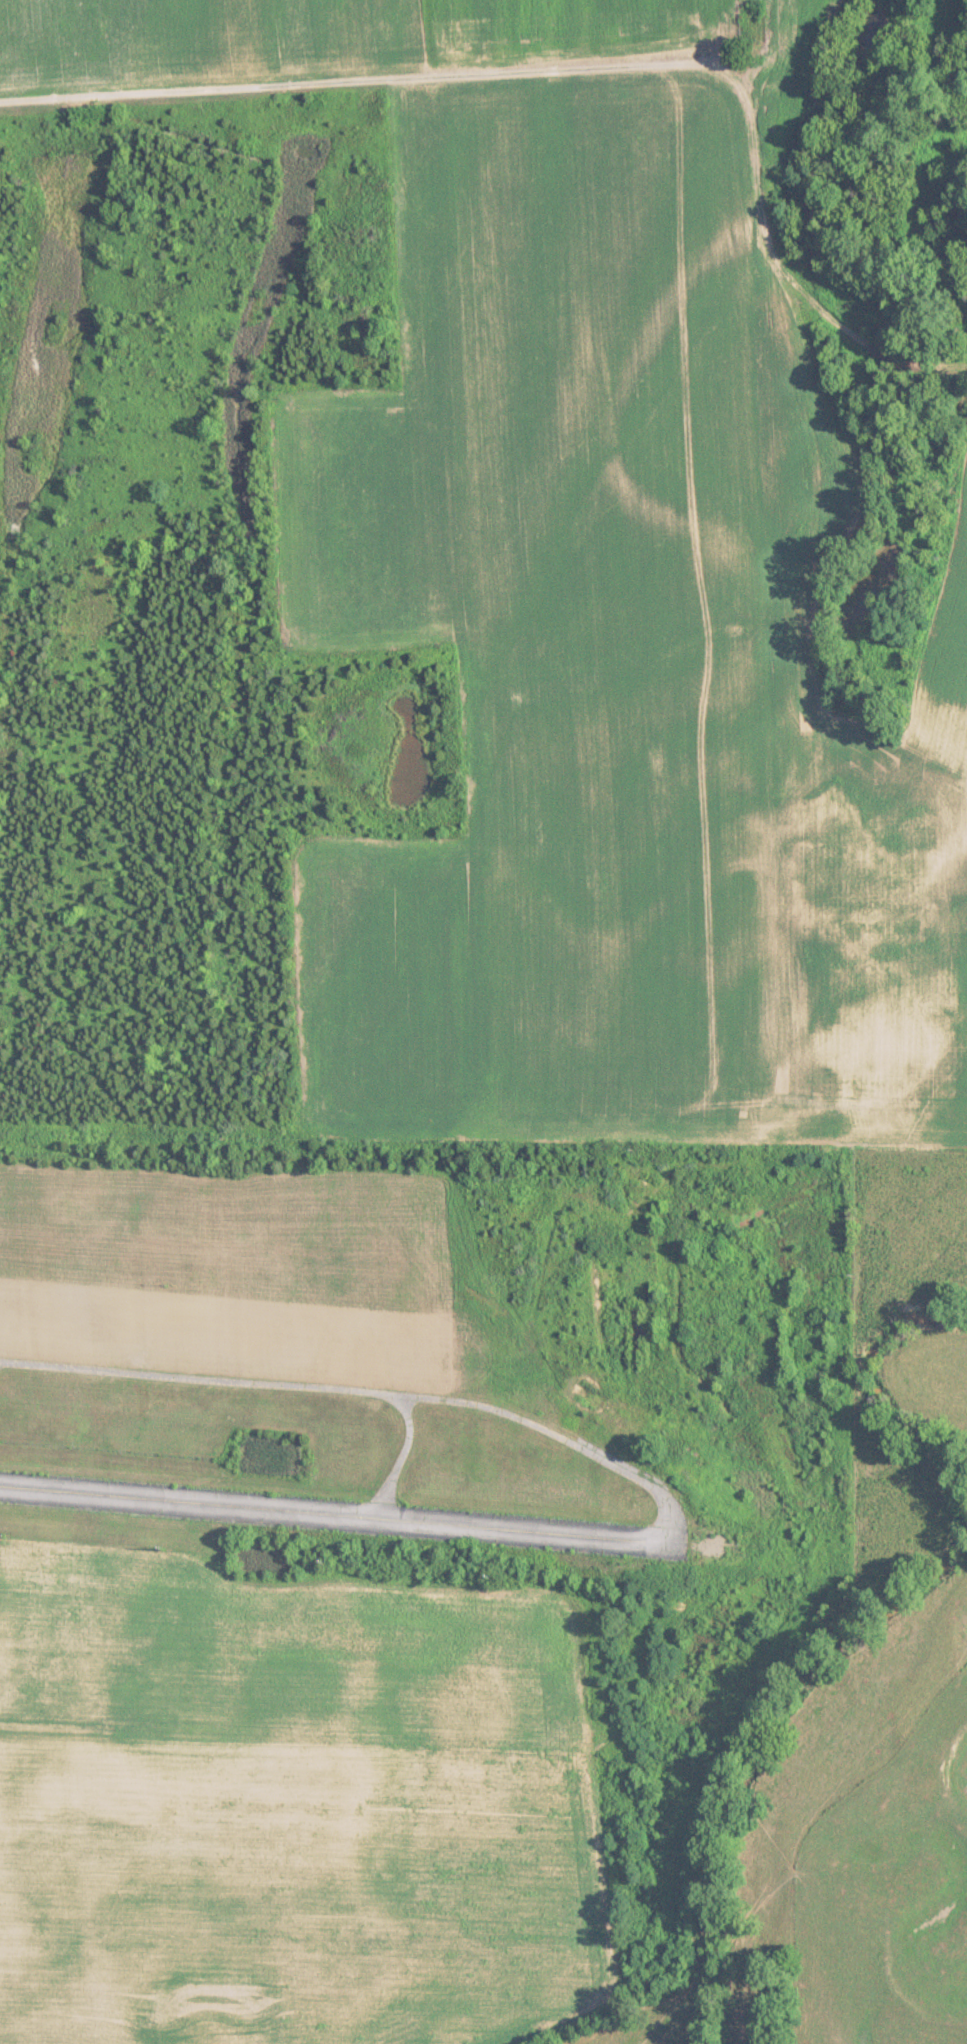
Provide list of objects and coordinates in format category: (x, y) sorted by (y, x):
road: (366, 1394)
road: (402, 1456)
raceway: (341, 1513)

